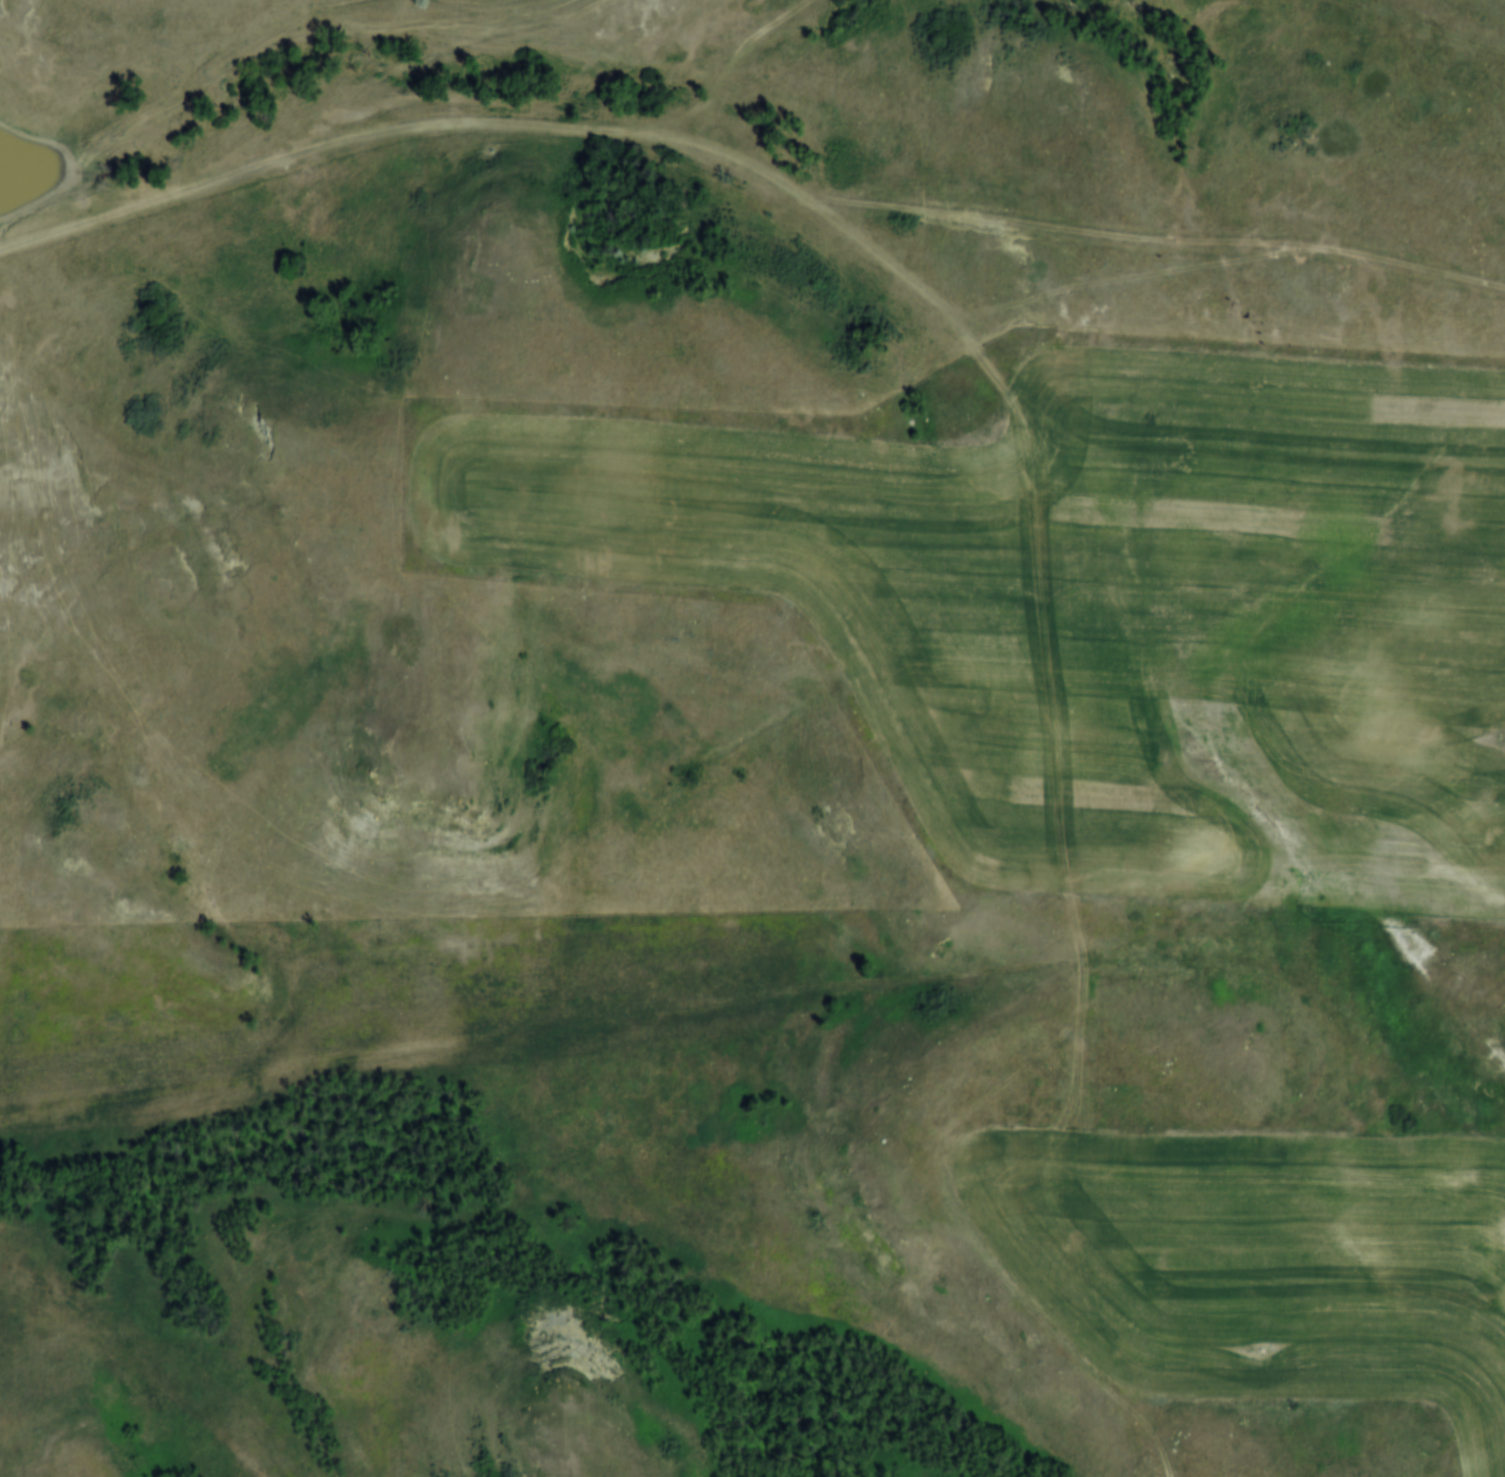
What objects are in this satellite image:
road: (746, 172)

